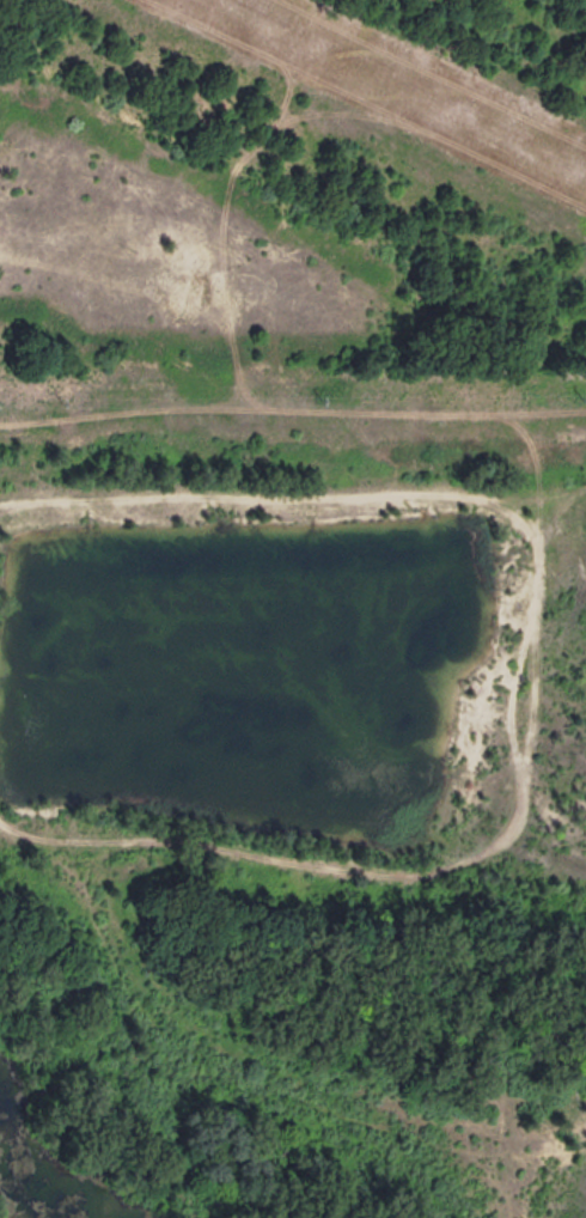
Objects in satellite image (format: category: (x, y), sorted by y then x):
road: (292, 410)
road: (550, 495)
park: (293, 609)
road: (531, 675)
road: (274, 1078)

